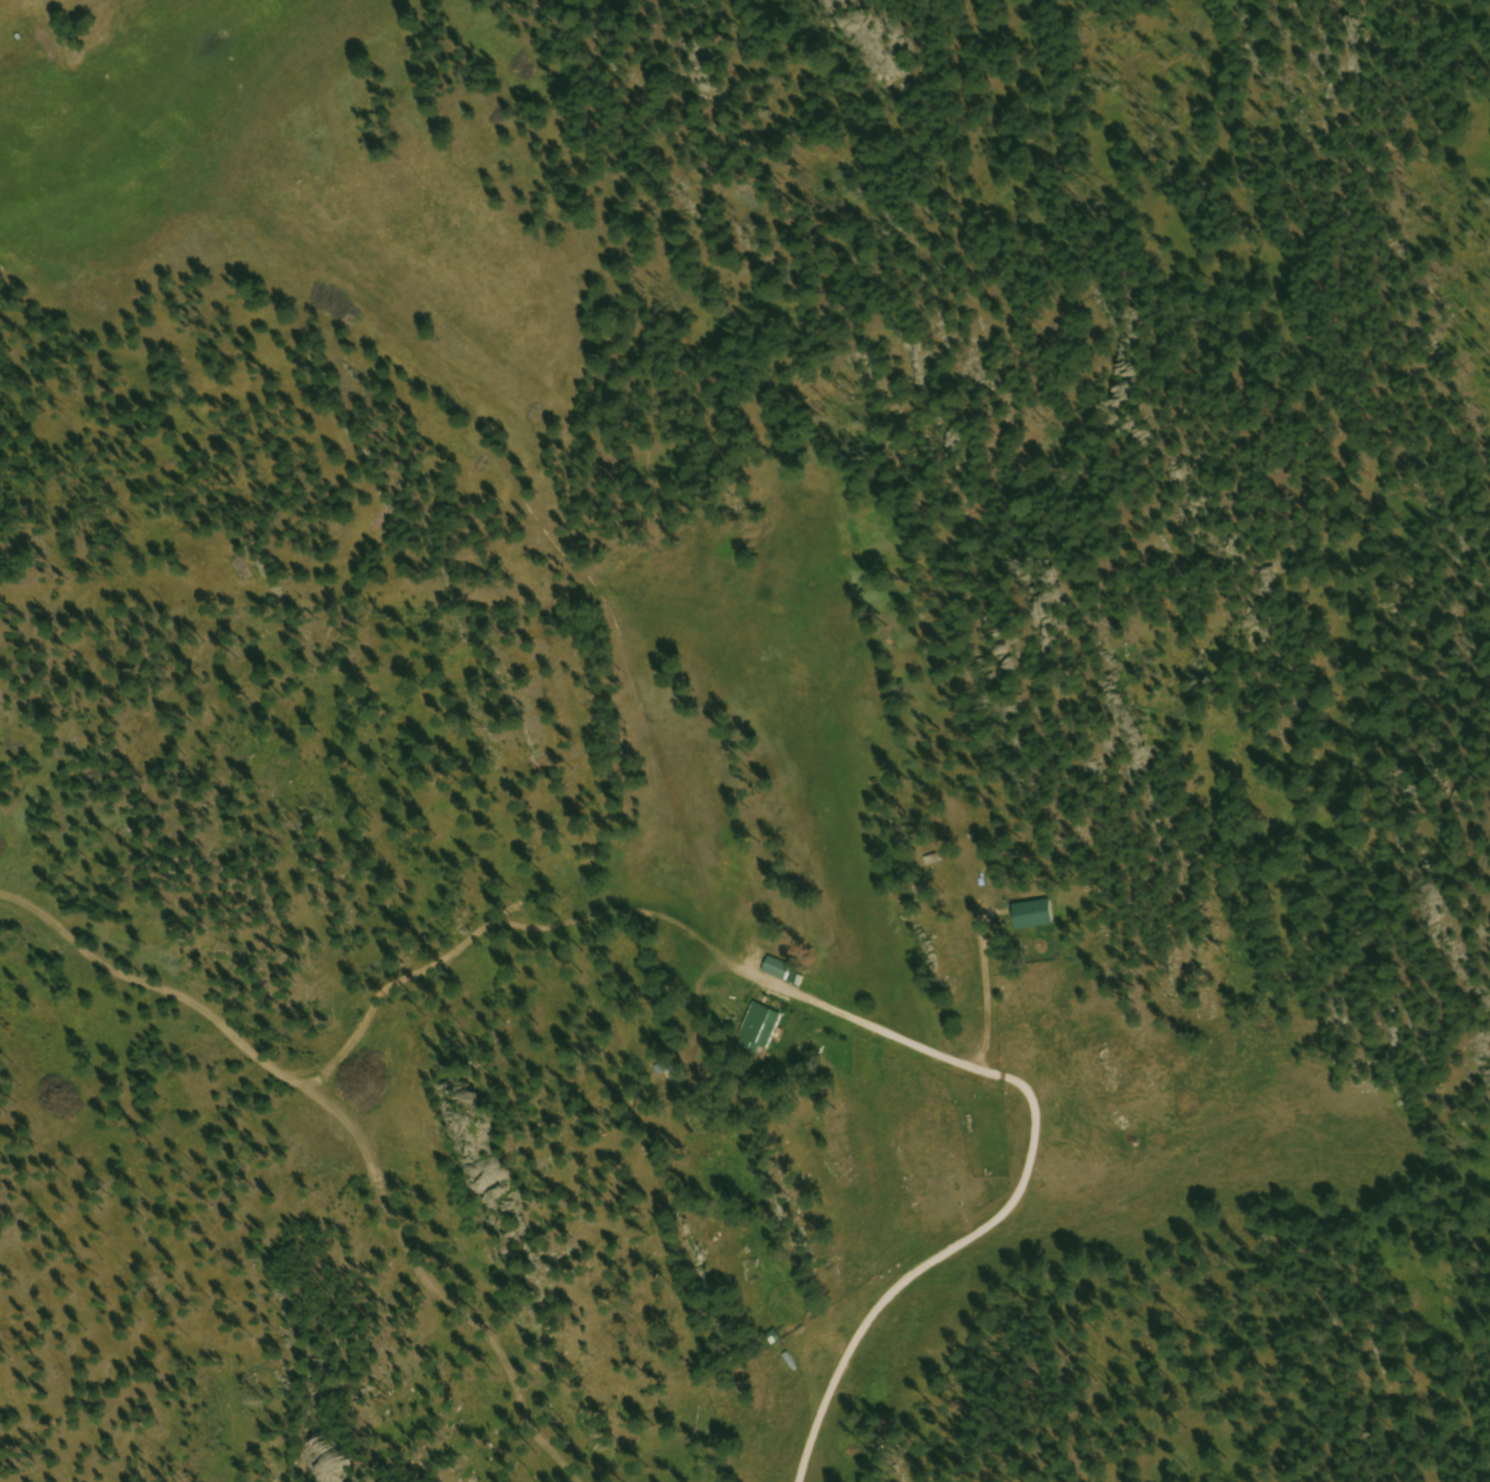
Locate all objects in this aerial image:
building: (1035, 916)
building: (777, 970)
building: (760, 1030)
road: (250, 1051)
building: (666, 1070)
building: (774, 1339)

